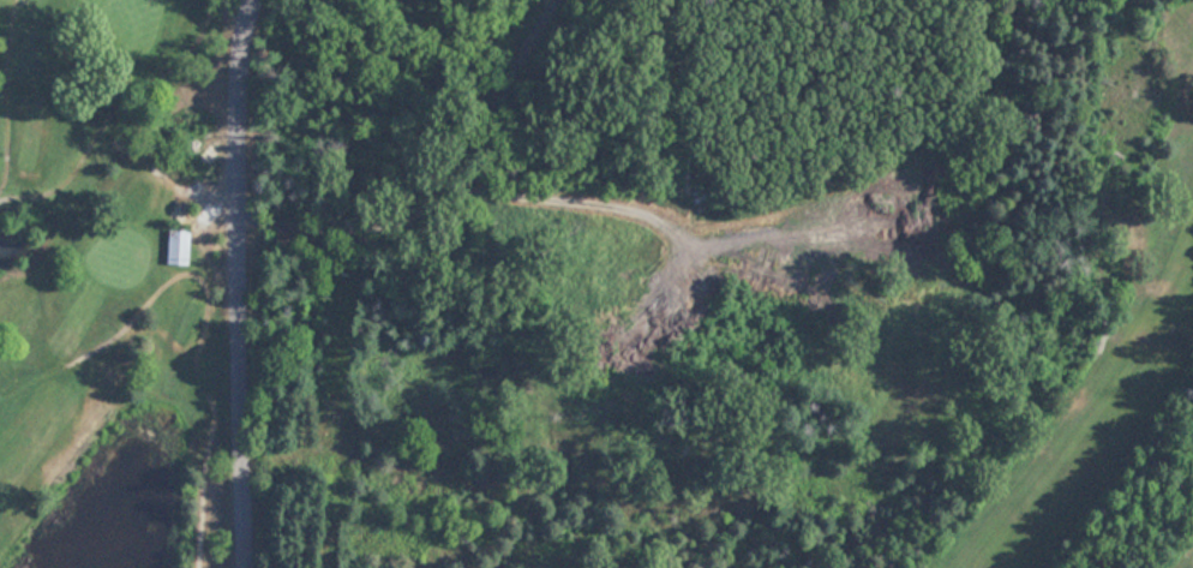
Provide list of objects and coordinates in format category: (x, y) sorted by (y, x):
building: (170, 246)
road: (241, 282)
park: (103, 285)
park: (1059, 379)

